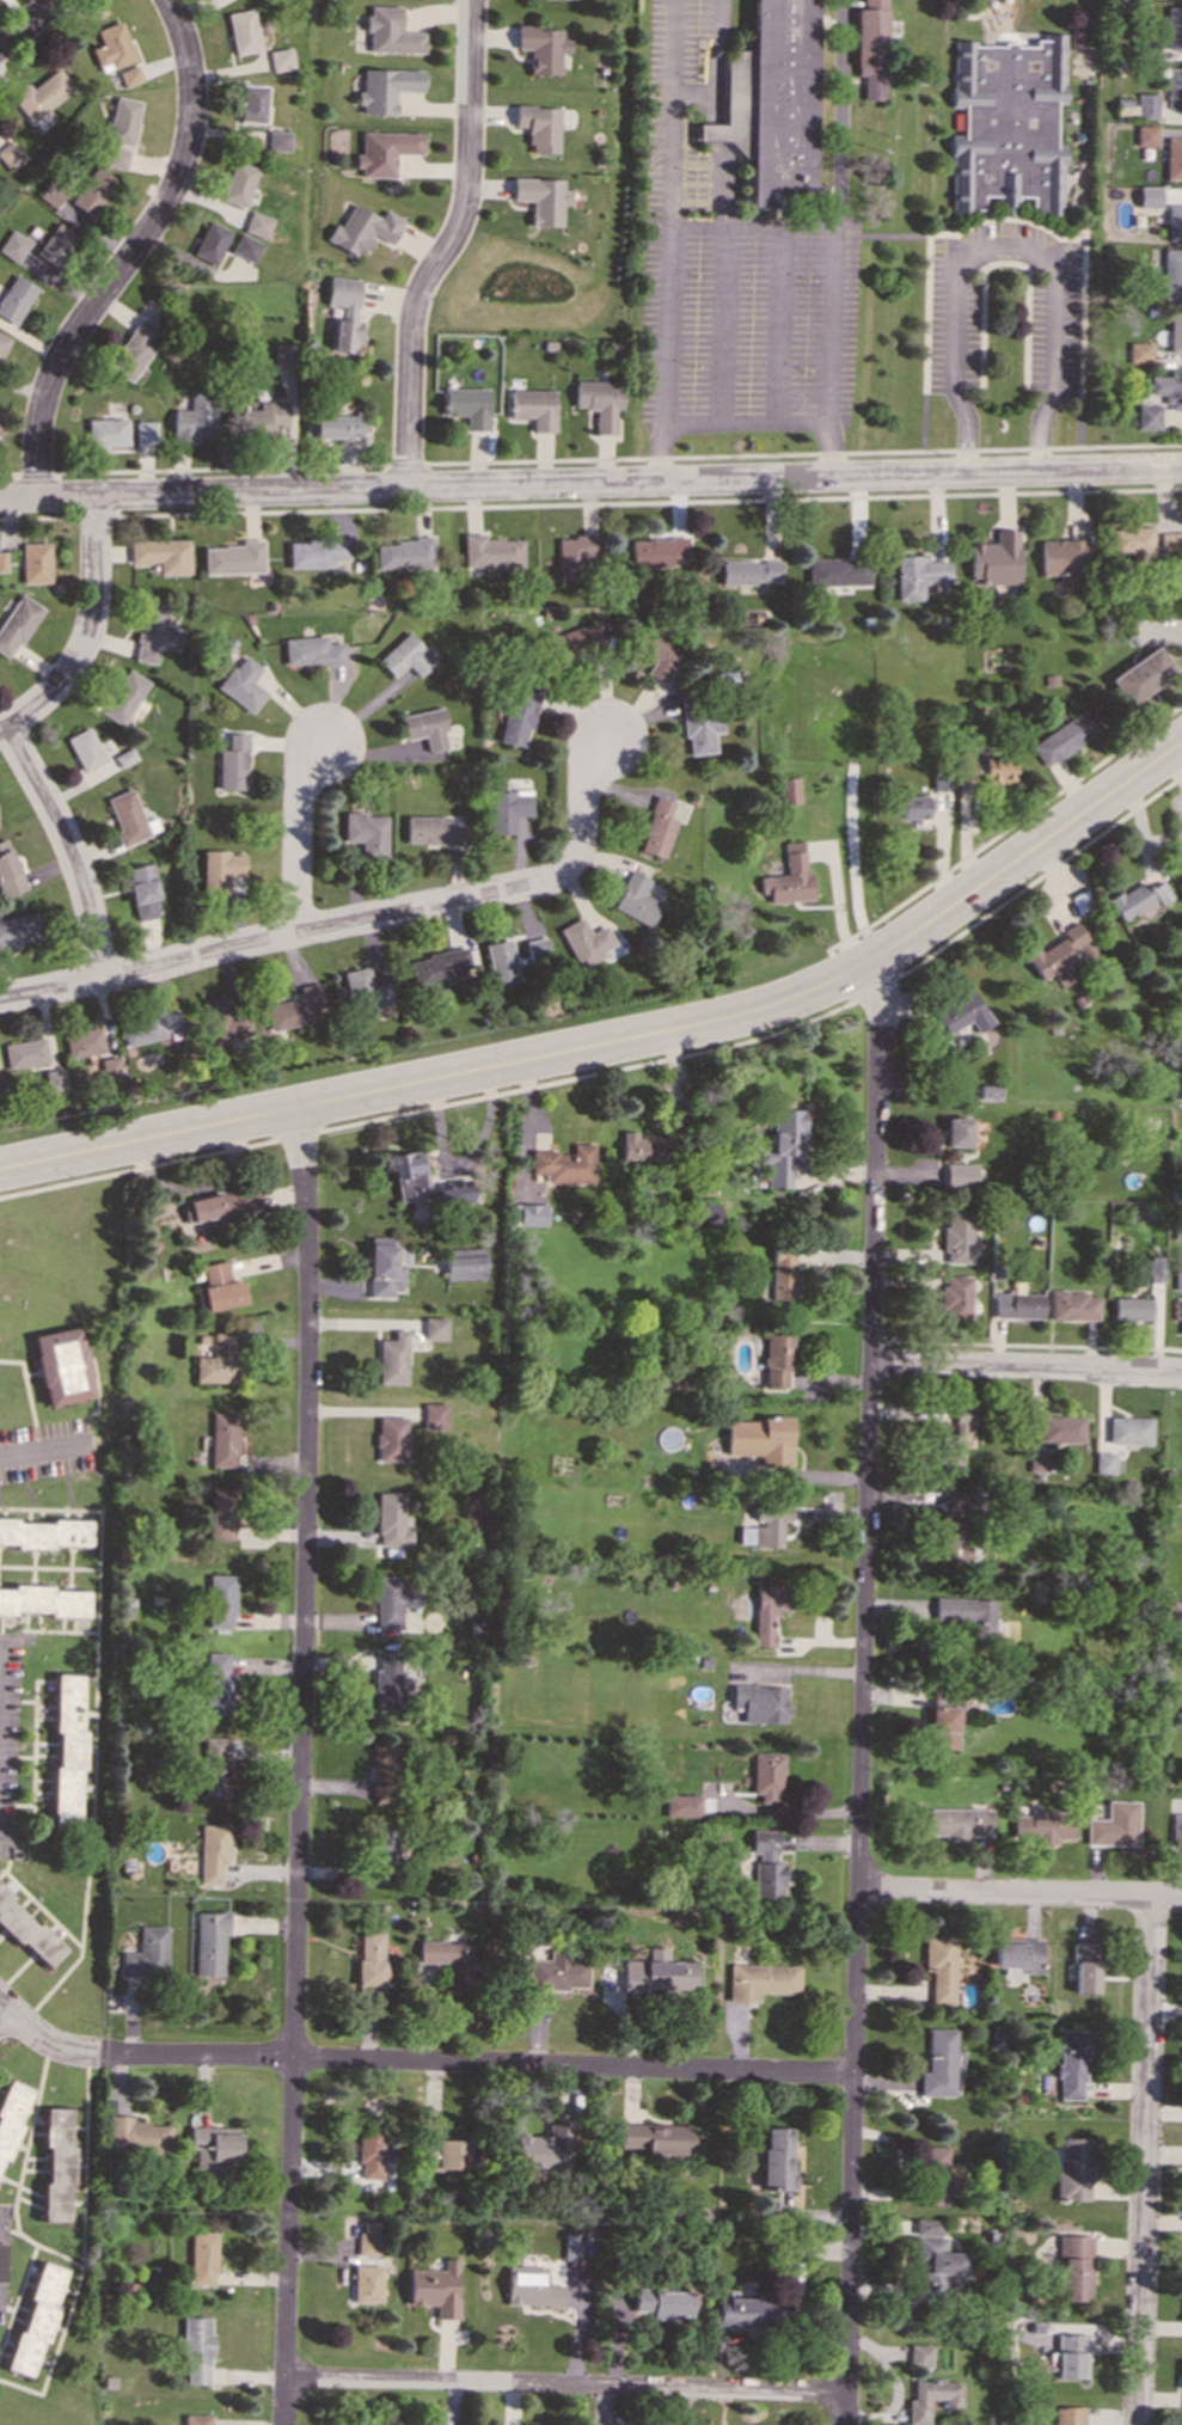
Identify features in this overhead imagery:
road: (27, 23)
building: (1174, 27)
building: (241, 31)
building: (388, 31)
building: (1076, 36)
building: (111, 45)
road: (719, 47)
building: (541, 48)
building: (870, 48)
building: (280, 59)
building: (129, 75)
building: (1175, 87)
building: (384, 88)
building: (41, 94)
road: (696, 94)
building: (252, 103)
building: (772, 103)
building: (1149, 105)
building: (122, 121)
building: (1006, 125)
building: (537, 127)
building: (1146, 135)
building: (277, 140)
building: (382, 151)
building: (10, 154)
building: (115, 158)
building: (1174, 158)
road: (718, 161)
building: (237, 183)
building: (91, 191)
building: (49, 194)
building: (1149, 195)
building: (539, 198)
road: (667, 210)
road: (835, 213)
building: (1174, 222)
building: (257, 225)
building: (361, 228)
road: (751, 228)
building: (209, 241)
building: (13, 245)
building: (55, 245)
road: (446, 246)
road: (1003, 246)
building: (245, 247)
road: (131, 252)
parking lot: (729, 264)
building: (1171, 274)
building: (14, 299)
building: (343, 312)
road: (727, 326)
road: (784, 327)
building: (1175, 331)
parking lot: (1053, 335)
building: (2, 343)
building: (134, 348)
building: (1139, 353)
building: (282, 354)
building: (1168, 388)
building: (598, 403)
building: (466, 405)
building: (533, 408)
building: (261, 415)
building: (195, 416)
building: (1147, 416)
building: (332, 425)
road: (740, 425)
building: (0, 428)
building: (106, 431)
building: (145, 431)
road: (590, 484)
building: (1131, 541)
building: (1170, 543)
building: (490, 551)
building: (655, 551)
building: (314, 552)
building: (402, 553)
building: (163, 555)
building: (574, 556)
building: (234, 557)
building: (1061, 557)
building: (993, 558)
building: (2, 562)
building: (35, 563)
building: (748, 571)
building: (837, 571)
building: (917, 576)
building: (17, 624)
road: (87, 631)
building: (154, 632)
building: (575, 641)
building: (312, 651)
building: (659, 653)
building: (405, 656)
building: (1140, 675)
building: (243, 684)
building: (124, 697)
building: (517, 716)
building: (425, 728)
building: (700, 730)
building: (1061, 737)
building: (85, 748)
road: (1176, 760)
building: (232, 763)
building: (997, 768)
building: (964, 770)
building: (941, 780)
building: (788, 790)
building: (913, 807)
building: (504, 809)
building: (130, 817)
building: (657, 827)
building: (430, 829)
building: (366, 833)
road: (298, 835)
road: (68, 846)
building: (220, 870)
building: (8, 871)
building: (789, 878)
building: (142, 890)
building: (635, 899)
building: (1137, 899)
road: (353, 920)
building: (19, 929)
building: (584, 942)
building: (535, 949)
building: (1057, 955)
building: (500, 961)
building: (437, 966)
building: (365, 991)
building: (294, 1008)
building: (961, 1014)
building: (223, 1022)
building: (151, 1025)
road: (625, 1040)
building: (84, 1042)
building: (25, 1053)
building: (109, 1067)
building: (54, 1079)
building: (1178, 1091)
building: (988, 1092)
building: (956, 1131)
building: (783, 1146)
building: (639, 1147)
building: (564, 1164)
building: (409, 1172)
building: (960, 1175)
building: (453, 1193)
building: (219, 1205)
building: (709, 1213)
building: (527, 1214)
building: (957, 1235)
building: (464, 1263)
building: (384, 1267)
building: (1156, 1269)
building: (782, 1273)
building: (1178, 1281)
building: (218, 1287)
building: (955, 1298)
building: (1018, 1305)
building: (1074, 1305)
building: (1132, 1308)
building: (435, 1328)
building: (393, 1358)
building: (777, 1359)
building: (216, 1360)
building: (61, 1366)
road: (1025, 1367)
building: (668, 1384)
building: (434, 1415)
building: (1061, 1428)
building: (1129, 1429)
building: (223, 1439)
building: (391, 1439)
building: (760, 1439)
road: (44, 1450)
building: (1037, 1460)
building: (1107, 1463)
building: (1178, 1495)
building: (962, 1500)
building: (220, 1514)
building: (391, 1520)
building: (767, 1524)
building: (44, 1532)
building: (955, 1543)
building: (43, 1600)
building: (220, 1600)
building: (392, 1600)
building: (1176, 1609)
building: (964, 1611)
building: (765, 1612)
building: (388, 1682)
building: (216, 1684)
road: (863, 1689)
building: (759, 1703)
building: (1181, 1703)
building: (942, 1727)
building: (67, 1750)
building: (213, 1766)
road: (300, 1766)
building: (384, 1774)
building: (765, 1775)
building: (681, 1805)
building: (957, 1821)
building: (1114, 1825)
building: (1042, 1826)
building: (1176, 1829)
building: (212, 1853)
building: (381, 1855)
building: (766, 1863)
road: (1019, 1892)
building: (27, 1931)
building: (208, 1942)
building: (147, 1953)
building: (1018, 1953)
building: (369, 1958)
building: (449, 1959)
building: (939, 1967)
building: (1085, 1967)
building: (556, 1972)
building: (656, 1973)
building: (760, 1980)
building: (368, 1992)
road: (5, 2020)
building: (1072, 2062)
road: (419, 2063)
building: (938, 2063)
building: (137, 2136)
building: (655, 2138)
building: (213, 2147)
building: (546, 2148)
building: (369, 2153)
building: (443, 2155)
building: (777, 2158)
road: (1145, 2161)
building: (55, 2164)
building: (1074, 2169)
building: (936, 2175)
building: (367, 2239)
building: (571, 2249)
building: (202, 2258)
building: (930, 2259)
building: (2, 2261)
building: (1073, 2267)
building: (367, 2283)
building: (531, 2286)
building: (435, 2289)
building: (662, 2304)
building: (749, 2311)
building: (35, 2320)
building: (196, 2350)
building: (1071, 2354)
building: (919, 2356)
road: (563, 2386)
building: (931, 2398)
building: (1068, 2415)
building: (196, 2419)
park: (6, 2421)

